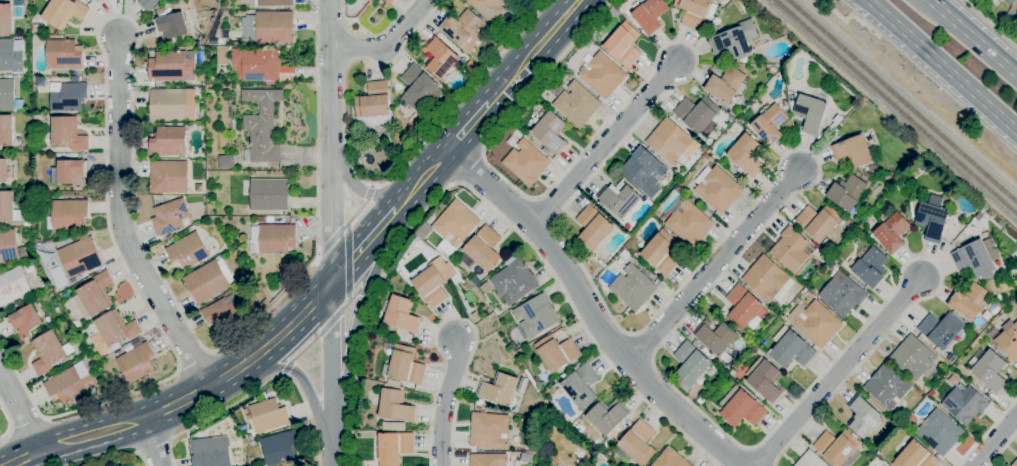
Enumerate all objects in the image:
building: (92, 0)
building: (162, 0)
building: (369, 0)
building: (389, 0)
building: (99, 1)
building: (385, 1)
building: (719, 1)
building: (1010, 2)
building: (274, 3)
building: (530, 3)
building: (151, 4)
building: (493, 7)
building: (18, 9)
building: (712, 10)
building: (64, 12)
building: (693, 12)
building: (649, 15)
road: (849, 17)
building: (6, 19)
building: (715, 21)
road: (990, 23)
building: (171, 27)
building: (274, 27)
building: (498, 27)
building: (464, 28)
road: (371, 36)
road: (973, 37)
building: (735, 39)
road: (388, 44)
building: (623, 45)
road: (533, 51)
building: (9, 54)
building: (63, 55)
building: (440, 57)
building: (257, 64)
building: (173, 66)
building: (471, 66)
road: (940, 66)
building: (772, 70)
building: (602, 75)
road: (132, 82)
building: (726, 85)
building: (417, 86)
building: (8, 96)
building: (68, 97)
railway: (902, 101)
building: (576, 104)
building: (168, 105)
building: (374, 105)
railway: (895, 107)
building: (807, 111)
building: (697, 113)
building: (769, 124)
building: (232, 125)
building: (261, 126)
road: (467, 126)
building: (6, 131)
building: (551, 132)
building: (68, 134)
road: (330, 141)
building: (669, 141)
building: (169, 142)
road: (604, 143)
building: (852, 151)
building: (746, 155)
building: (707, 156)
building: (226, 162)
building: (526, 162)
road: (465, 168)
building: (5, 170)
building: (70, 172)
building: (644, 172)
building: (169, 177)
road: (421, 178)
road: (372, 186)
road: (370, 187)
building: (717, 188)
road: (361, 190)
building: (847, 192)
building: (269, 194)
building: (619, 199)
road: (486, 204)
building: (8, 207)
road: (749, 209)
building: (67, 214)
building: (170, 216)
building: (261, 219)
building: (269, 219)
building: (932, 219)
road: (348, 221)
building: (687, 221)
road: (121, 222)
building: (818, 222)
building: (455, 223)
building: (27, 224)
building: (593, 227)
building: (424, 231)
building: (892, 232)
building: (169, 237)
building: (272, 238)
road: (363, 245)
building: (10, 247)
building: (483, 248)
building: (790, 249)
building: (188, 251)
building: (661, 252)
road: (319, 254)
building: (625, 254)
building: (80, 257)
building: (973, 258)
building: (467, 261)
road: (349, 262)
road: (714, 267)
building: (870, 267)
building: (29, 268)
building: (765, 278)
building: (514, 280)
building: (434, 281)
building: (206, 282)
building: (43, 283)
building: (13, 286)
building: (486, 288)
building: (633, 288)
building: (94, 295)
road: (373, 296)
building: (842, 296)
building: (969, 301)
building: (743, 307)
road: (589, 309)
road: (360, 310)
building: (223, 313)
building: (401, 314)
building: (536, 315)
road: (455, 317)
road: (314, 321)
building: (24, 322)
building: (818, 324)
building: (77, 325)
road: (326, 327)
building: (940, 329)
building: (112, 331)
building: (993, 334)
building: (716, 336)
building: (1008, 340)
building: (790, 348)
building: (49, 352)
building: (556, 352)
building: (708, 353)
building: (915, 359)
building: (135, 364)
building: (404, 366)
building: (690, 366)
building: (990, 370)
road: (837, 372)
road: (332, 374)
road: (283, 375)
road: (300, 377)
building: (766, 381)
building: (393, 383)
building: (69, 385)
building: (580, 385)
building: (888, 386)
road: (258, 387)
building: (499, 390)
road: (185, 400)
road: (446, 401)
building: (700, 401)
building: (395, 404)
building: (965, 404)
building: (740, 407)
road: (20, 412)
building: (267, 415)
building: (607, 416)
building: (863, 416)
road: (9, 423)
road: (28, 425)
building: (393, 426)
building: (488, 430)
building: (939, 432)
road: (986, 432)
road: (994, 440)
road: (153, 442)
building: (611, 442)
building: (636, 444)
building: (837, 447)
building: (280, 448)
building: (394, 448)
road: (1002, 449)
building: (210, 452)
building: (915, 456)
road: (118, 457)
building: (488, 459)
building: (669, 459)
building: (810, 460)
building: (1014, 463)
building: (289, 464)

